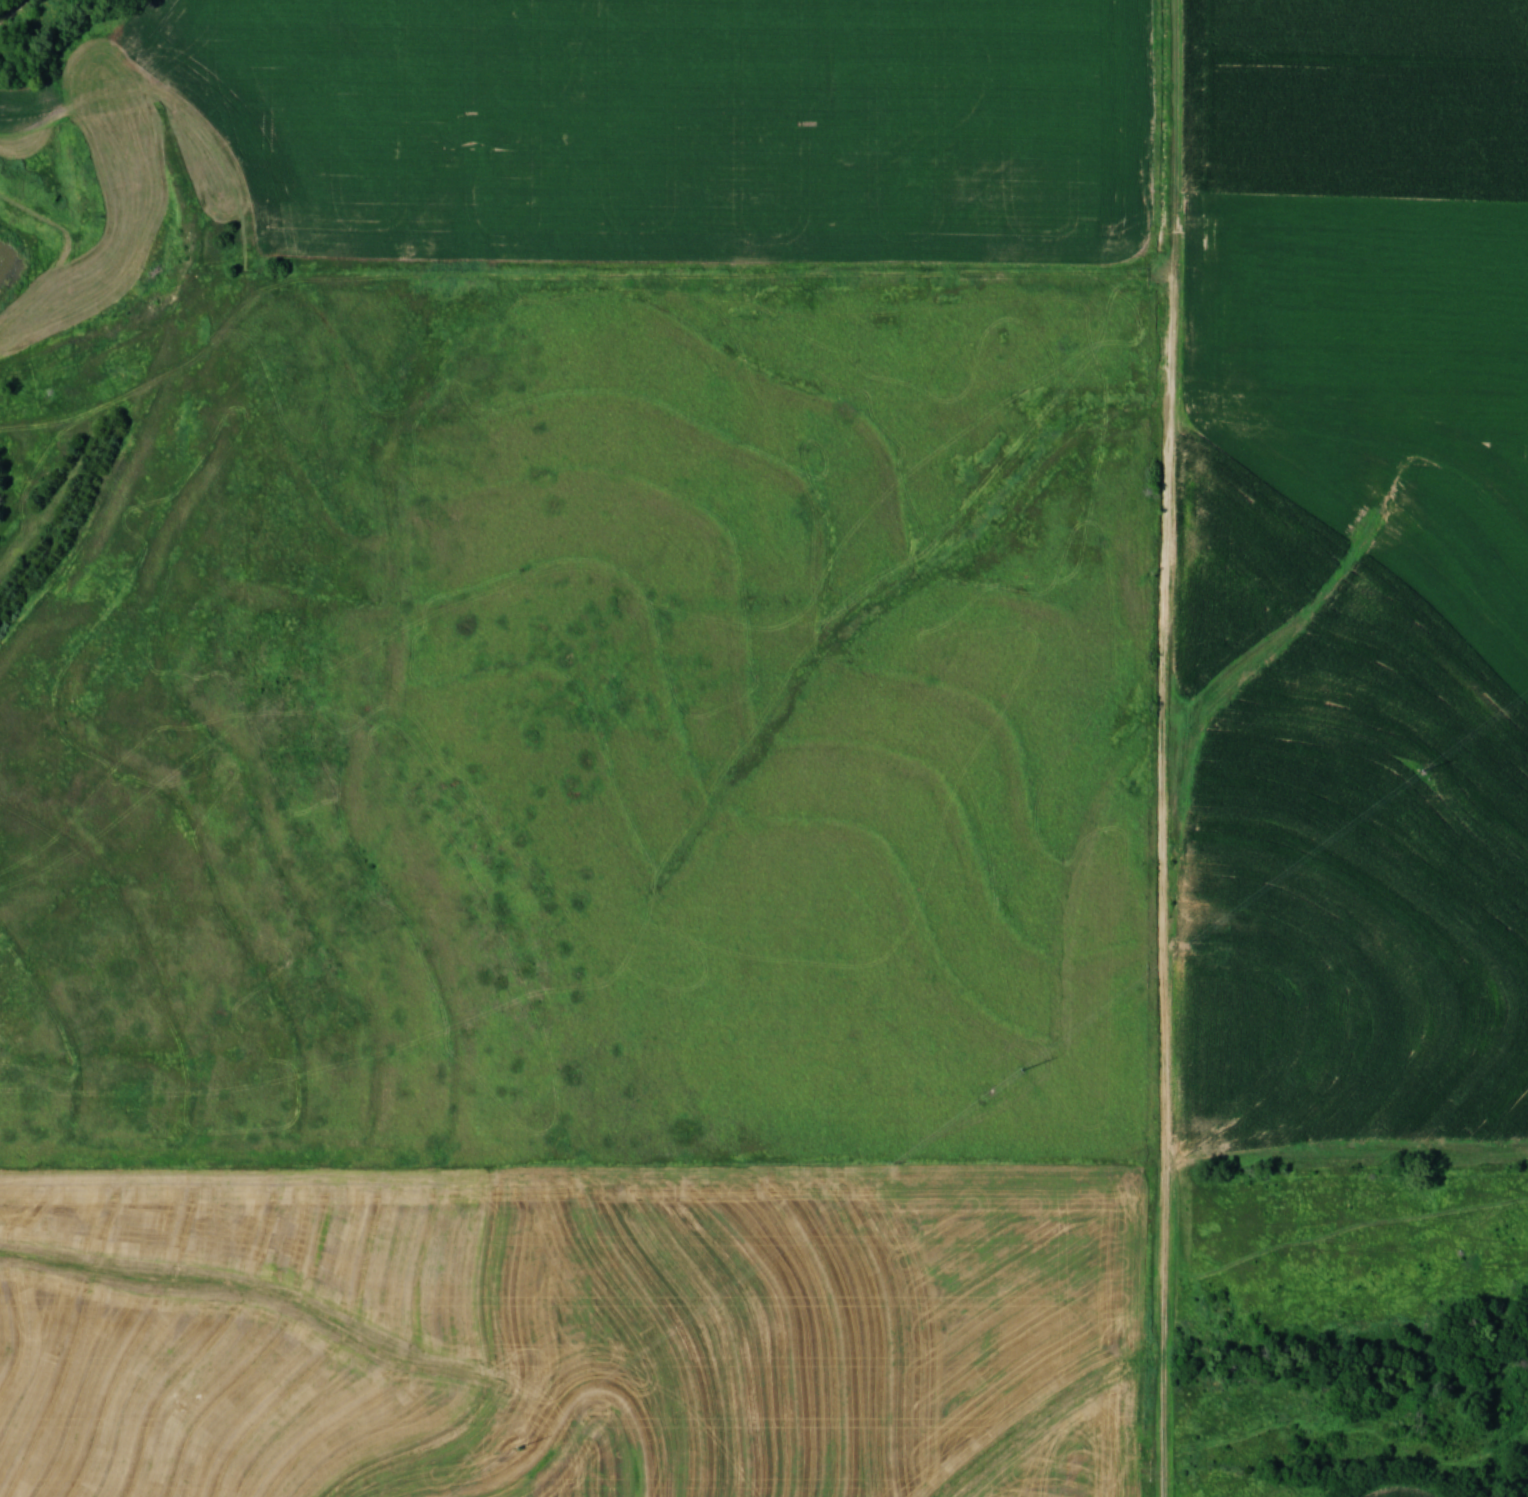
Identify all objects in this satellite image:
dam: (41, 213)
road: (1163, 748)
building: (1077, 1469)

